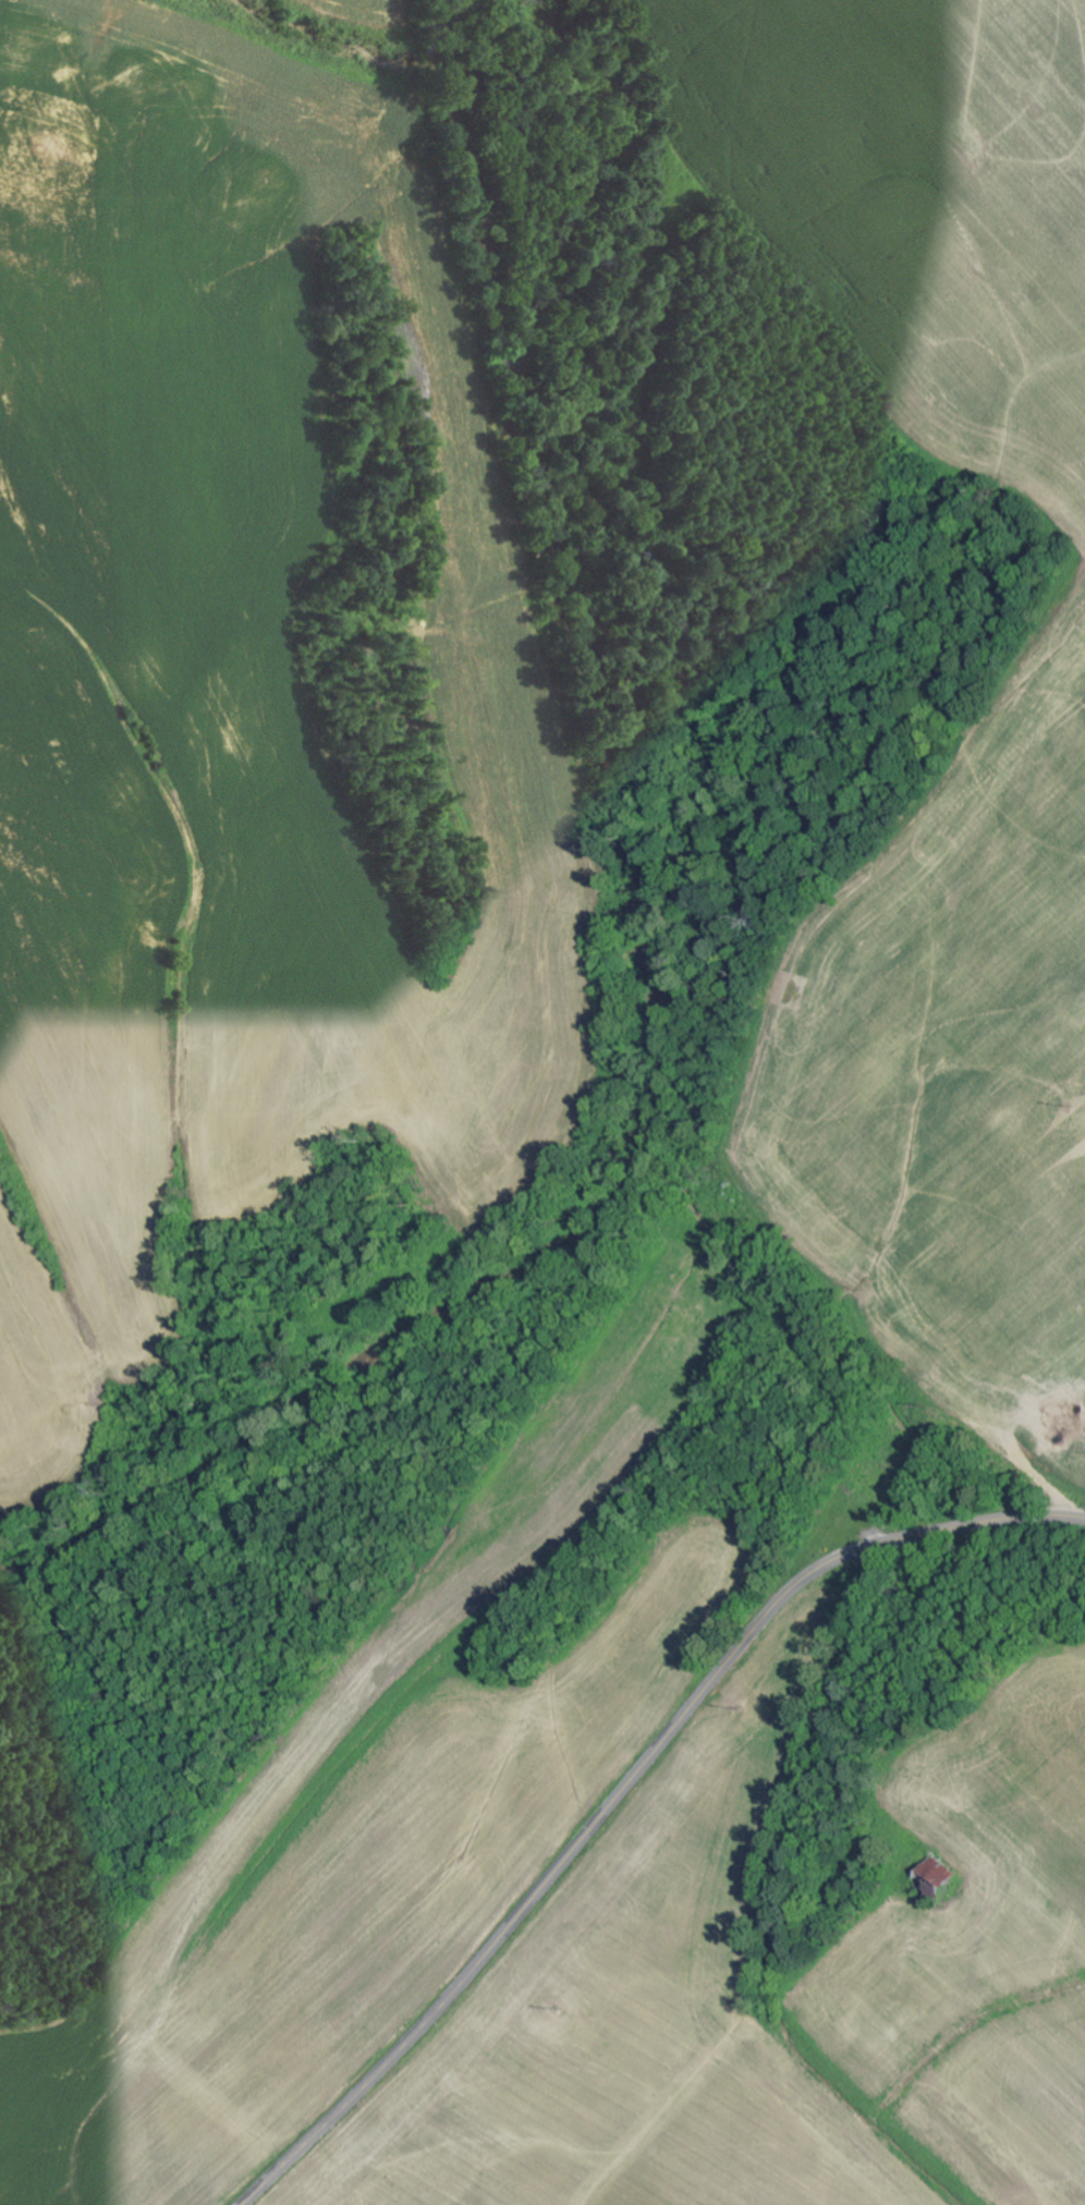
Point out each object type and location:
road: (625, 1788)
building: (942, 1884)

